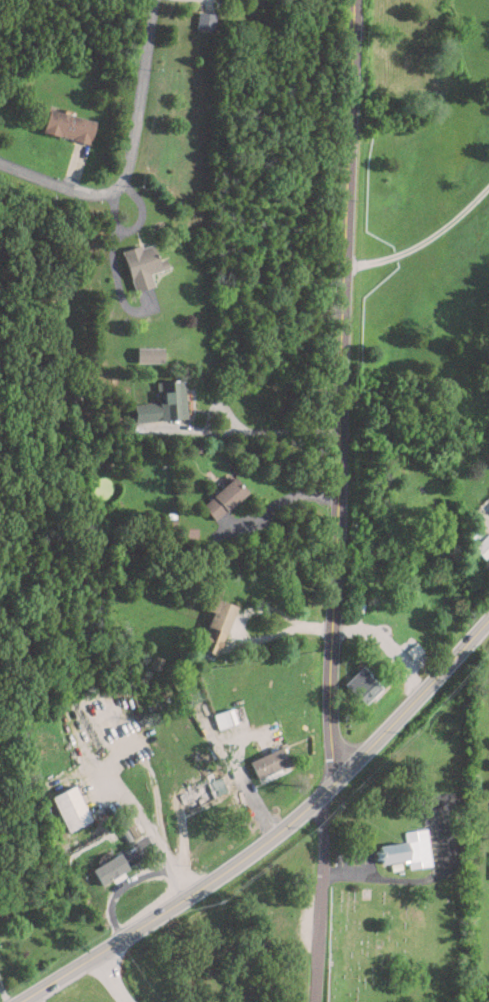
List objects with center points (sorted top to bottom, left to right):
building: (205, 20)
building: (69, 125)
road: (129, 155)
road: (423, 240)
building: (143, 264)
road: (340, 389)
building: (165, 402)
road: (224, 408)
road: (248, 432)
building: (225, 498)
building: (484, 546)
road: (245, 612)
building: (217, 624)
road: (387, 645)
building: (412, 653)
building: (364, 685)
building: (226, 717)
building: (271, 763)
road: (238, 772)
building: (204, 793)
building: (71, 808)
road: (153, 834)
road: (271, 834)
building: (408, 850)
building: (109, 868)
road: (417, 879)
road: (122, 886)
road: (319, 897)
road: (111, 978)

